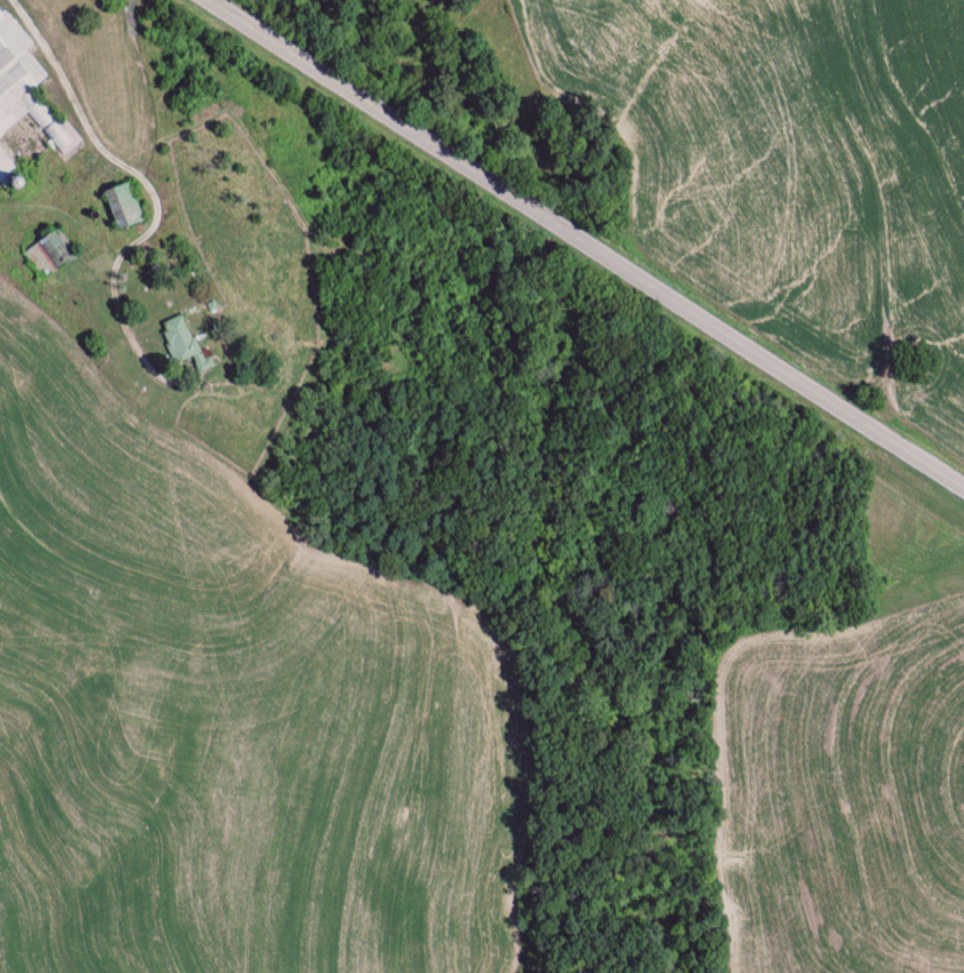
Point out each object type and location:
building: (25, 89)
road: (74, 101)
building: (4, 166)
road: (154, 175)
building: (121, 206)
road: (587, 238)
building: (50, 254)
building: (183, 344)

